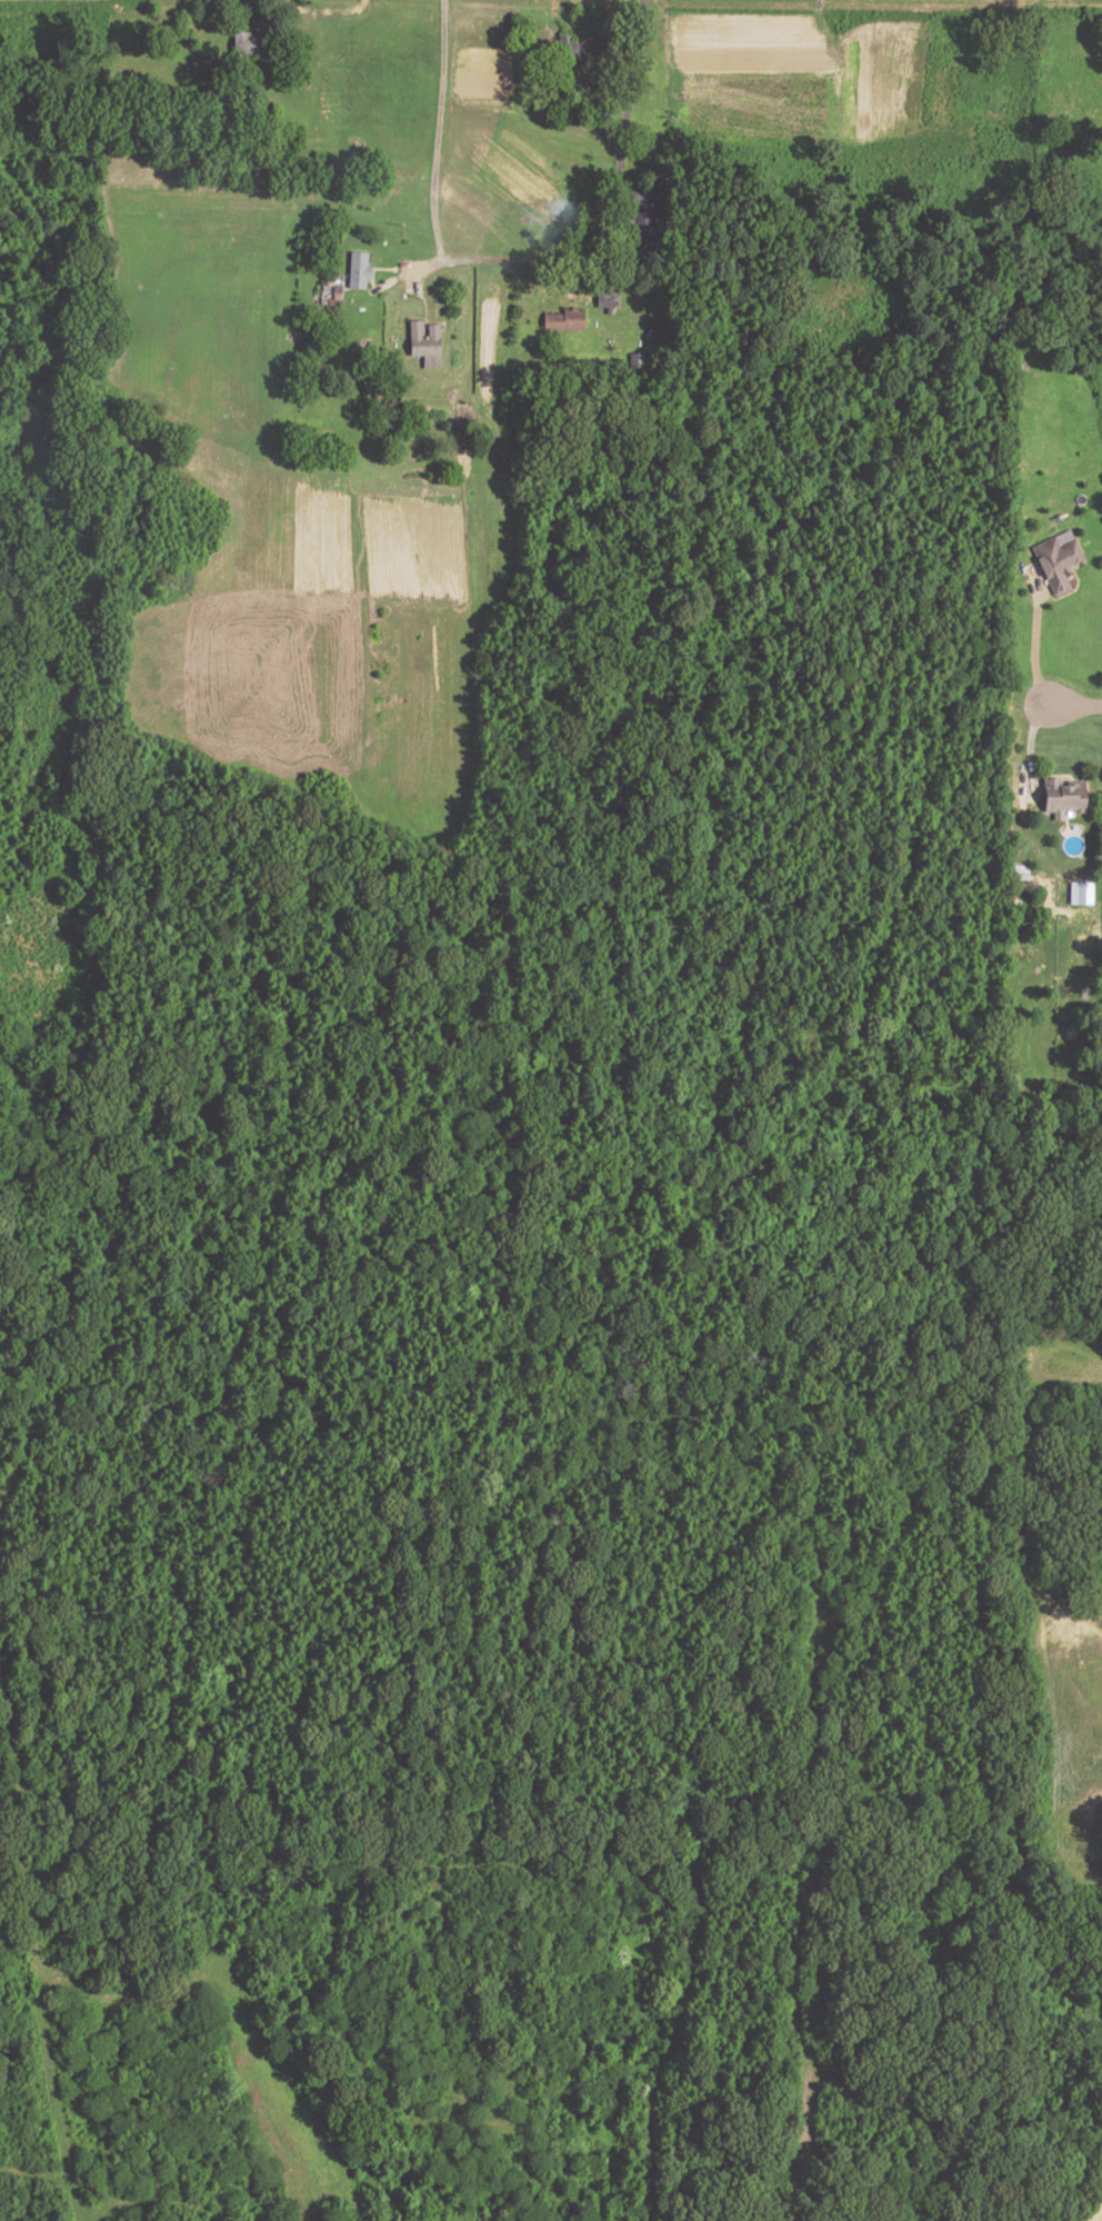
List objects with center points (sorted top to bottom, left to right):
road: (304, 9)
road: (552, 14)
building: (242, 43)
building: (563, 52)
road: (435, 131)
building: (637, 215)
road: (592, 236)
building: (357, 270)
road: (412, 280)
building: (335, 296)
building: (603, 300)
road: (61, 303)
road: (422, 303)
building: (561, 321)
building: (653, 336)
building: (423, 343)
building: (634, 363)
building: (413, 417)
building: (1054, 561)
road: (1064, 592)
road: (1032, 638)
road: (1074, 706)
road: (1029, 748)
building: (1058, 797)
building: (1080, 892)
road: (48, 2070)

